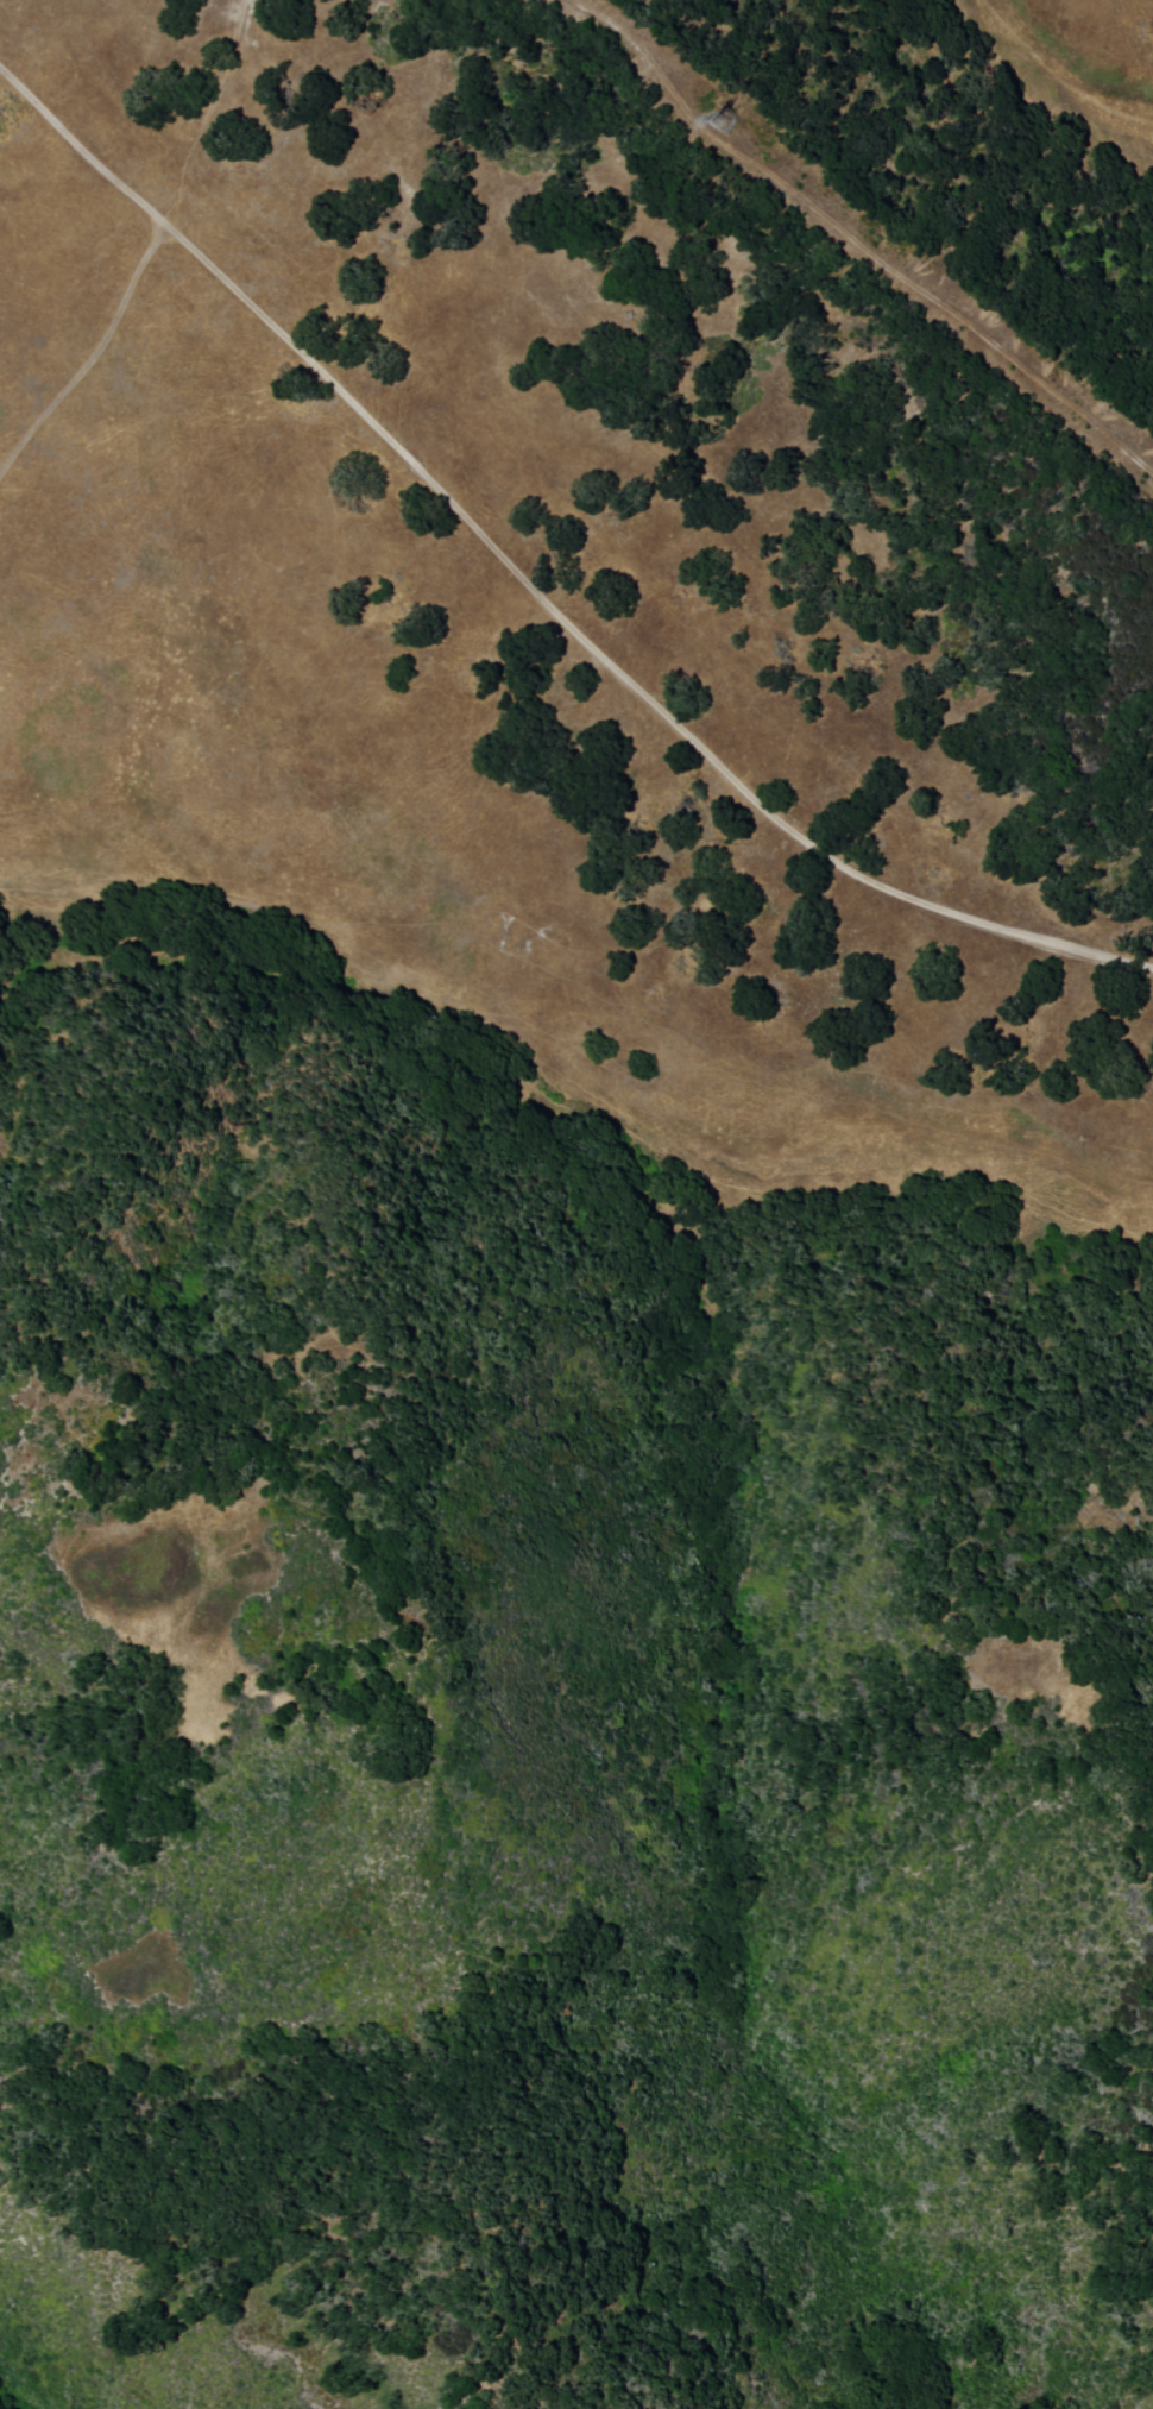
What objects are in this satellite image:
power tower: (716, 120)
road: (80, 143)
road: (90, 350)
road: (609, 667)

